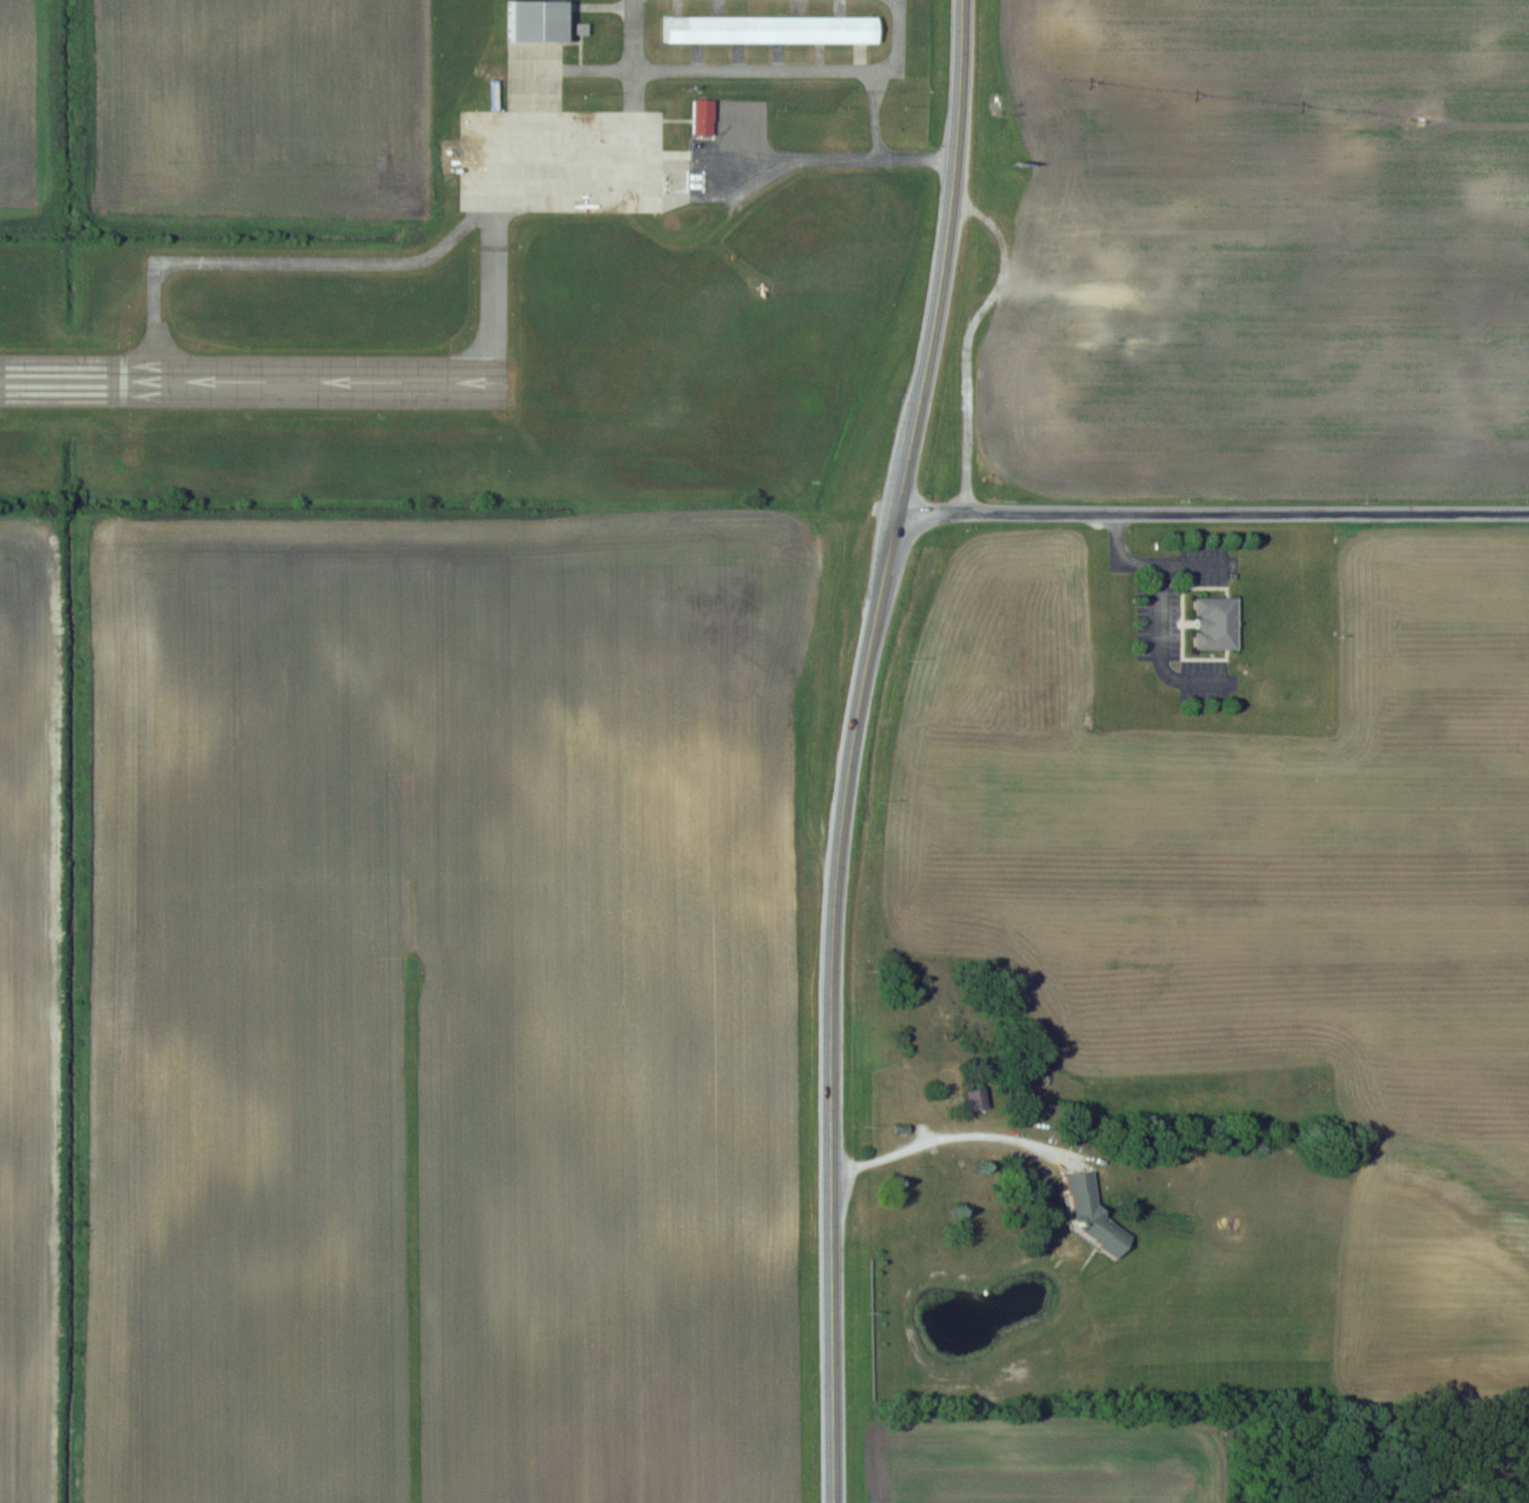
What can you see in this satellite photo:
building: (536, 20)
building: (770, 29)
road: (767, 67)
building: (703, 117)
road: (886, 141)
road: (945, 257)
road: (969, 360)
airport runway: (246, 379)
road: (932, 510)
road: (1248, 510)
building: (1216, 623)
road: (830, 1004)
building: (976, 1099)

